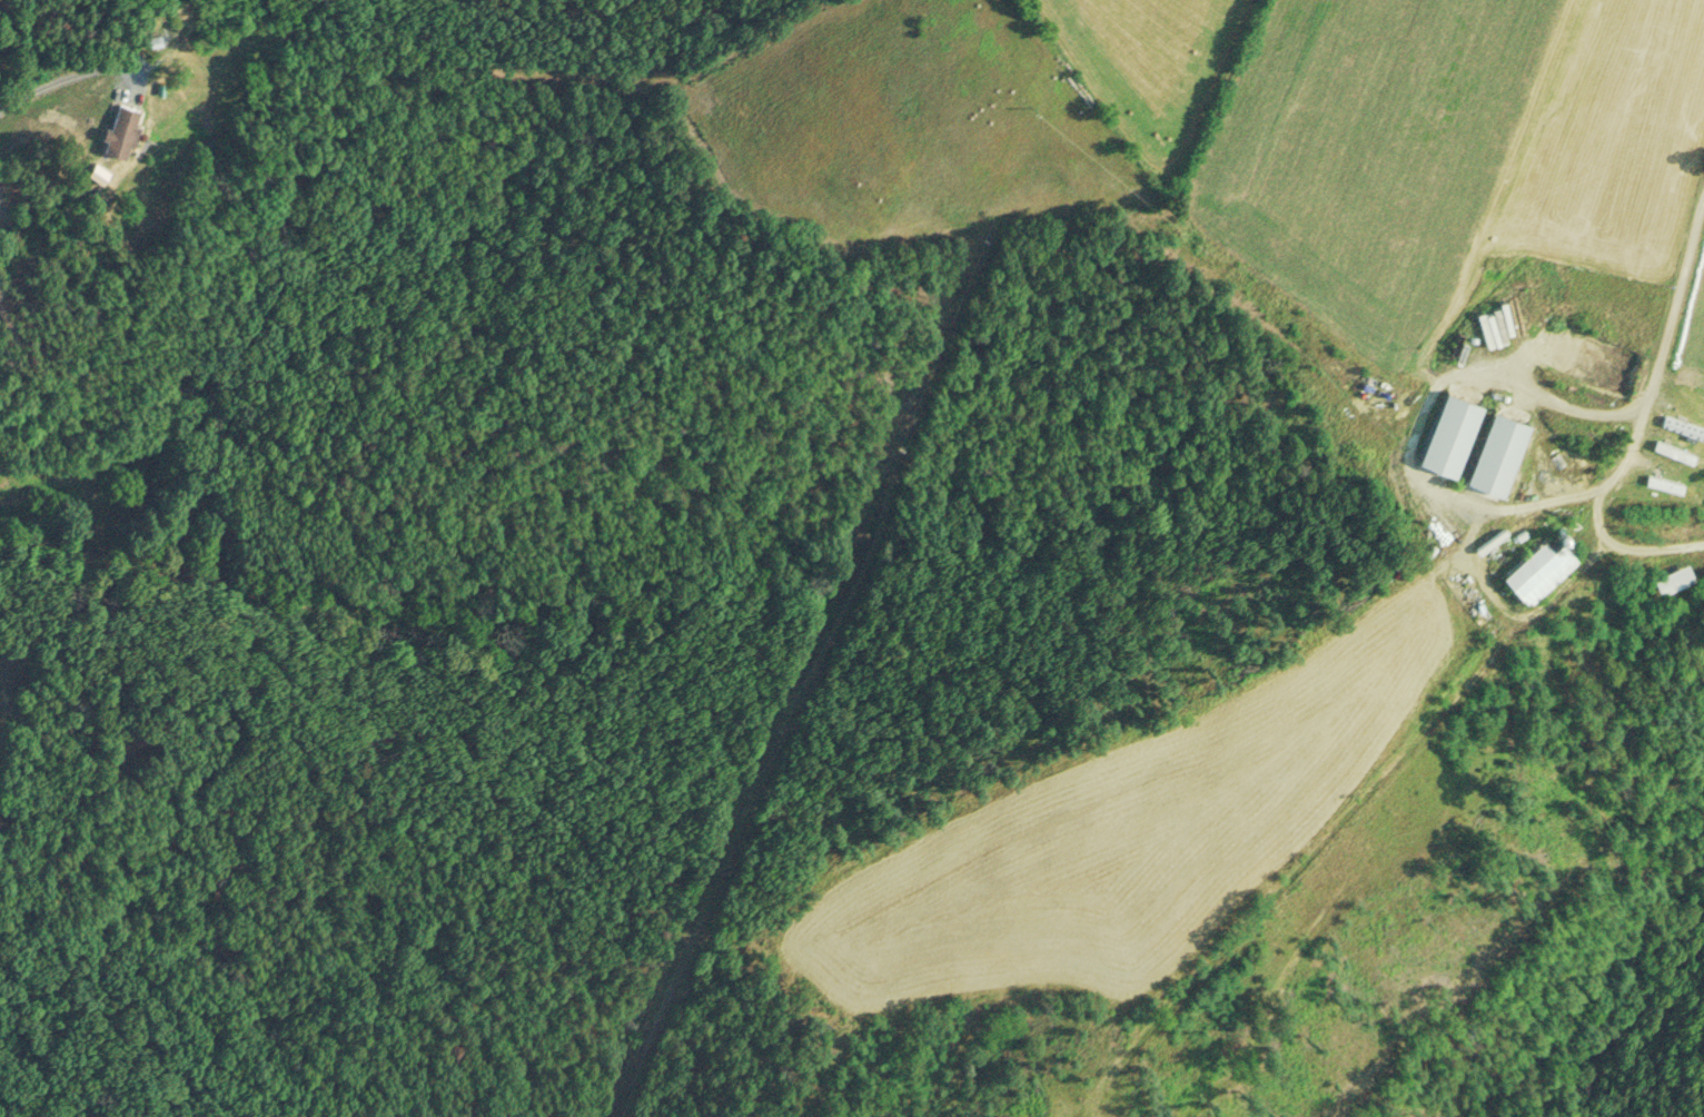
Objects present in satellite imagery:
building: (120, 130)
road: (1643, 422)
building: (1674, 451)
building: (1664, 483)
building: (1538, 569)
building: (1673, 576)

